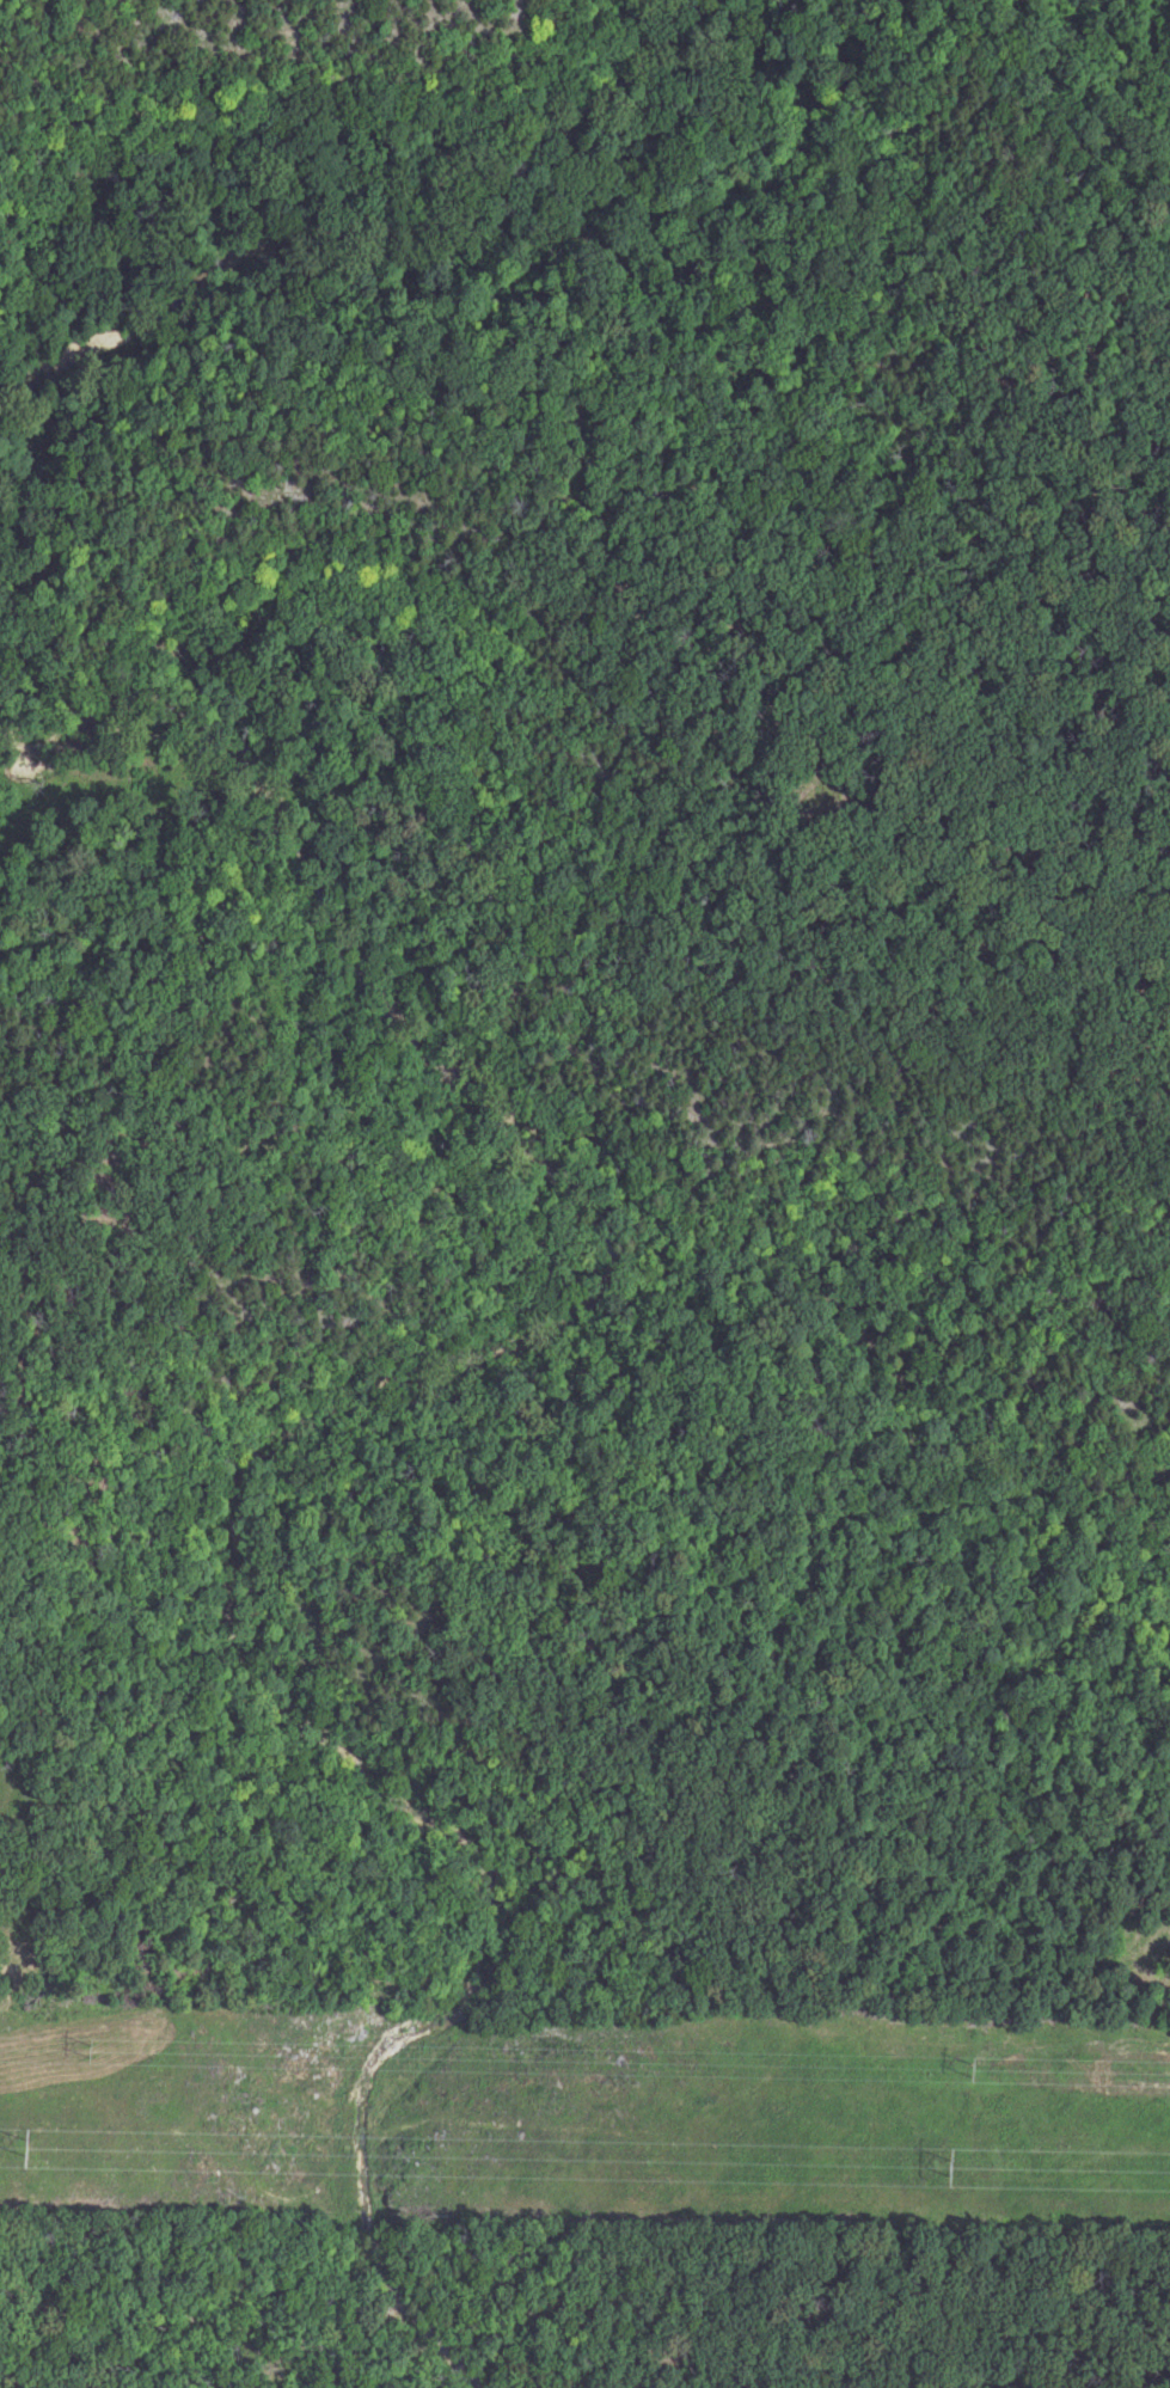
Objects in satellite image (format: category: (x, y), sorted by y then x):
power tower: (98, 2051)
power tower: (974, 2068)
power tower: (23, 2148)
power tower: (949, 2167)

